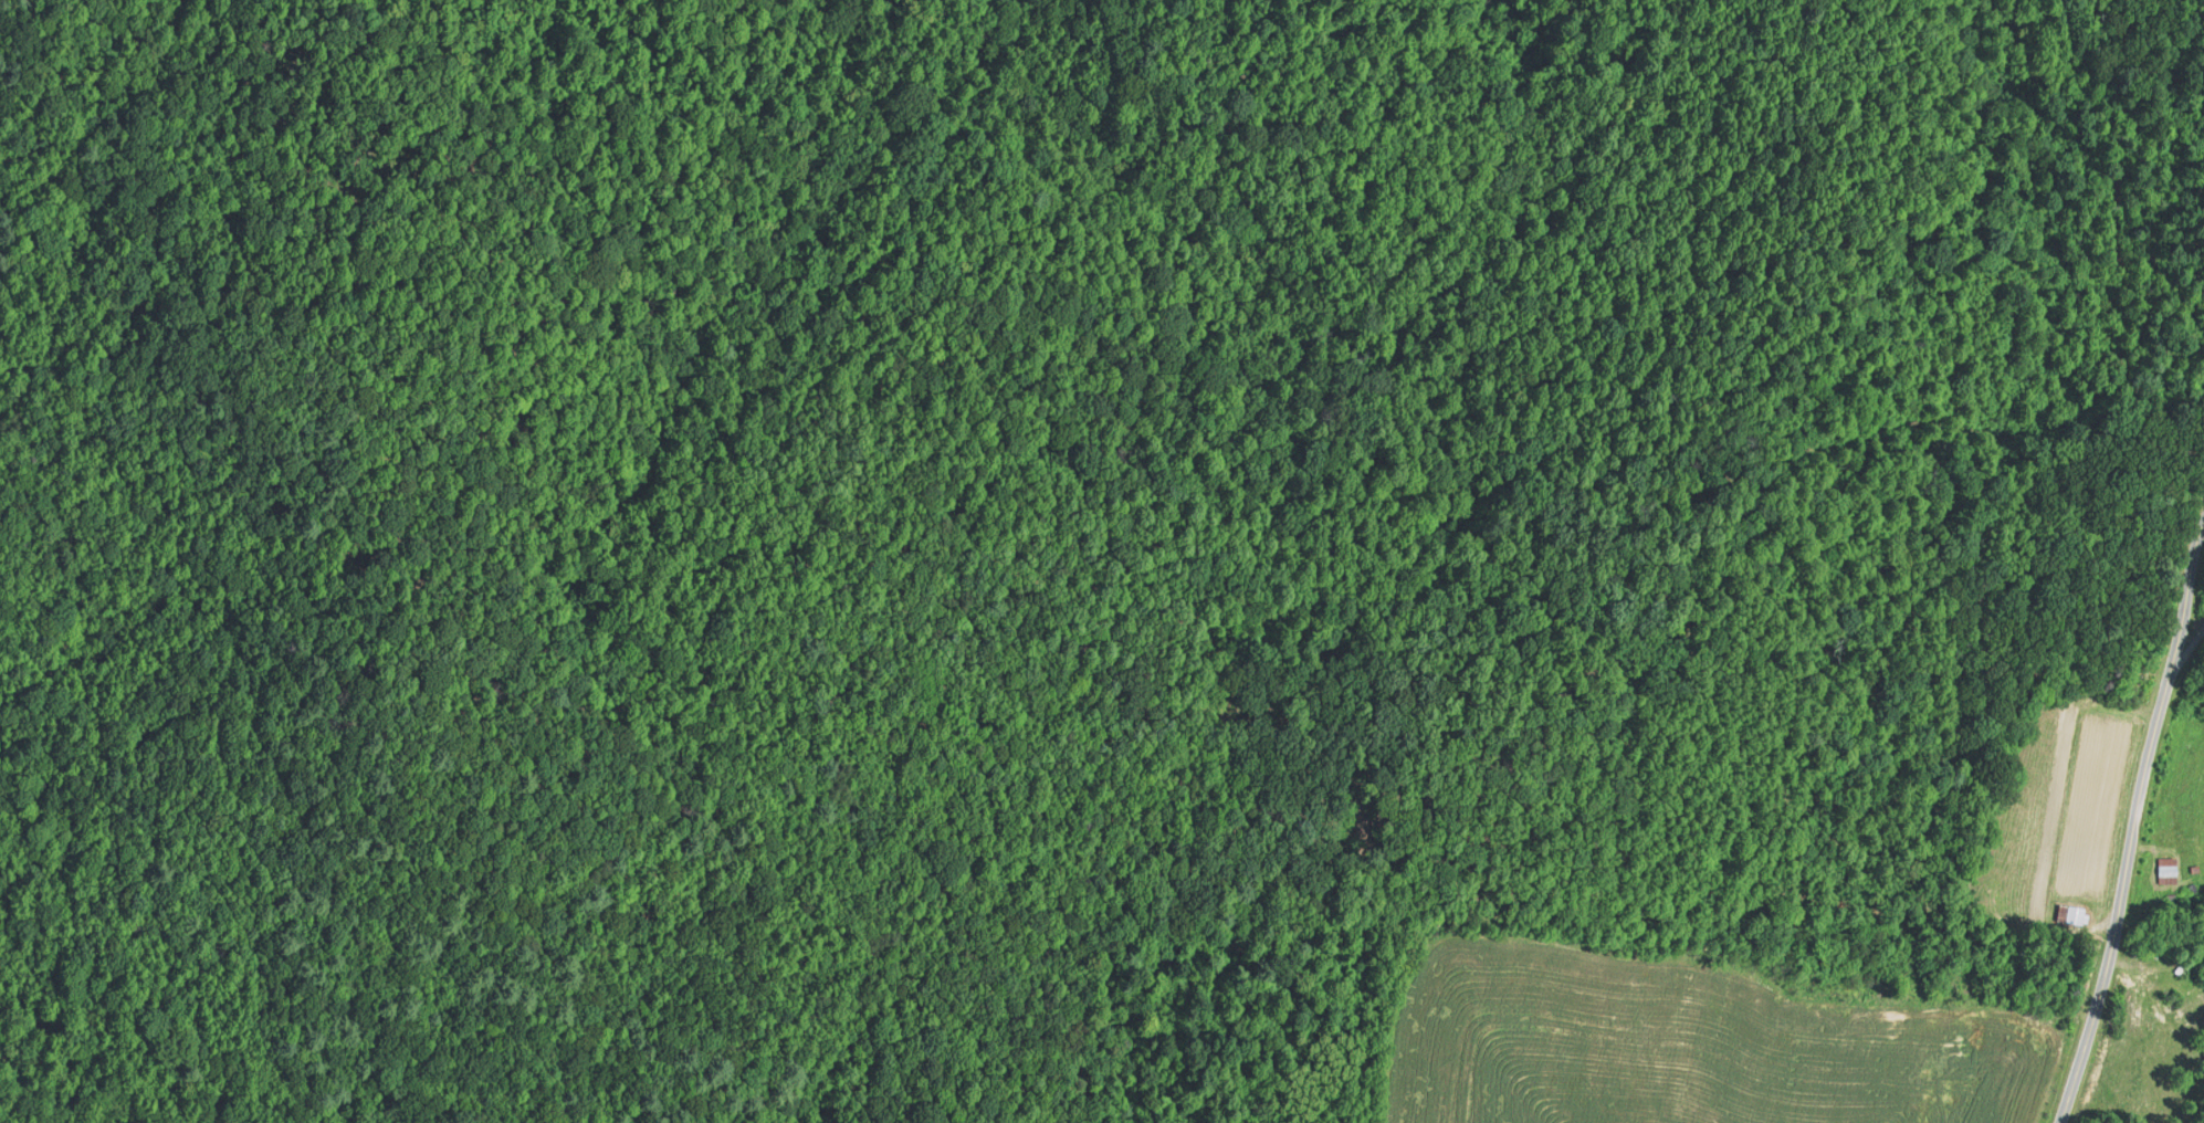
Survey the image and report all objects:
road: (2141, 839)
building: (2162, 869)
building: (2068, 915)

